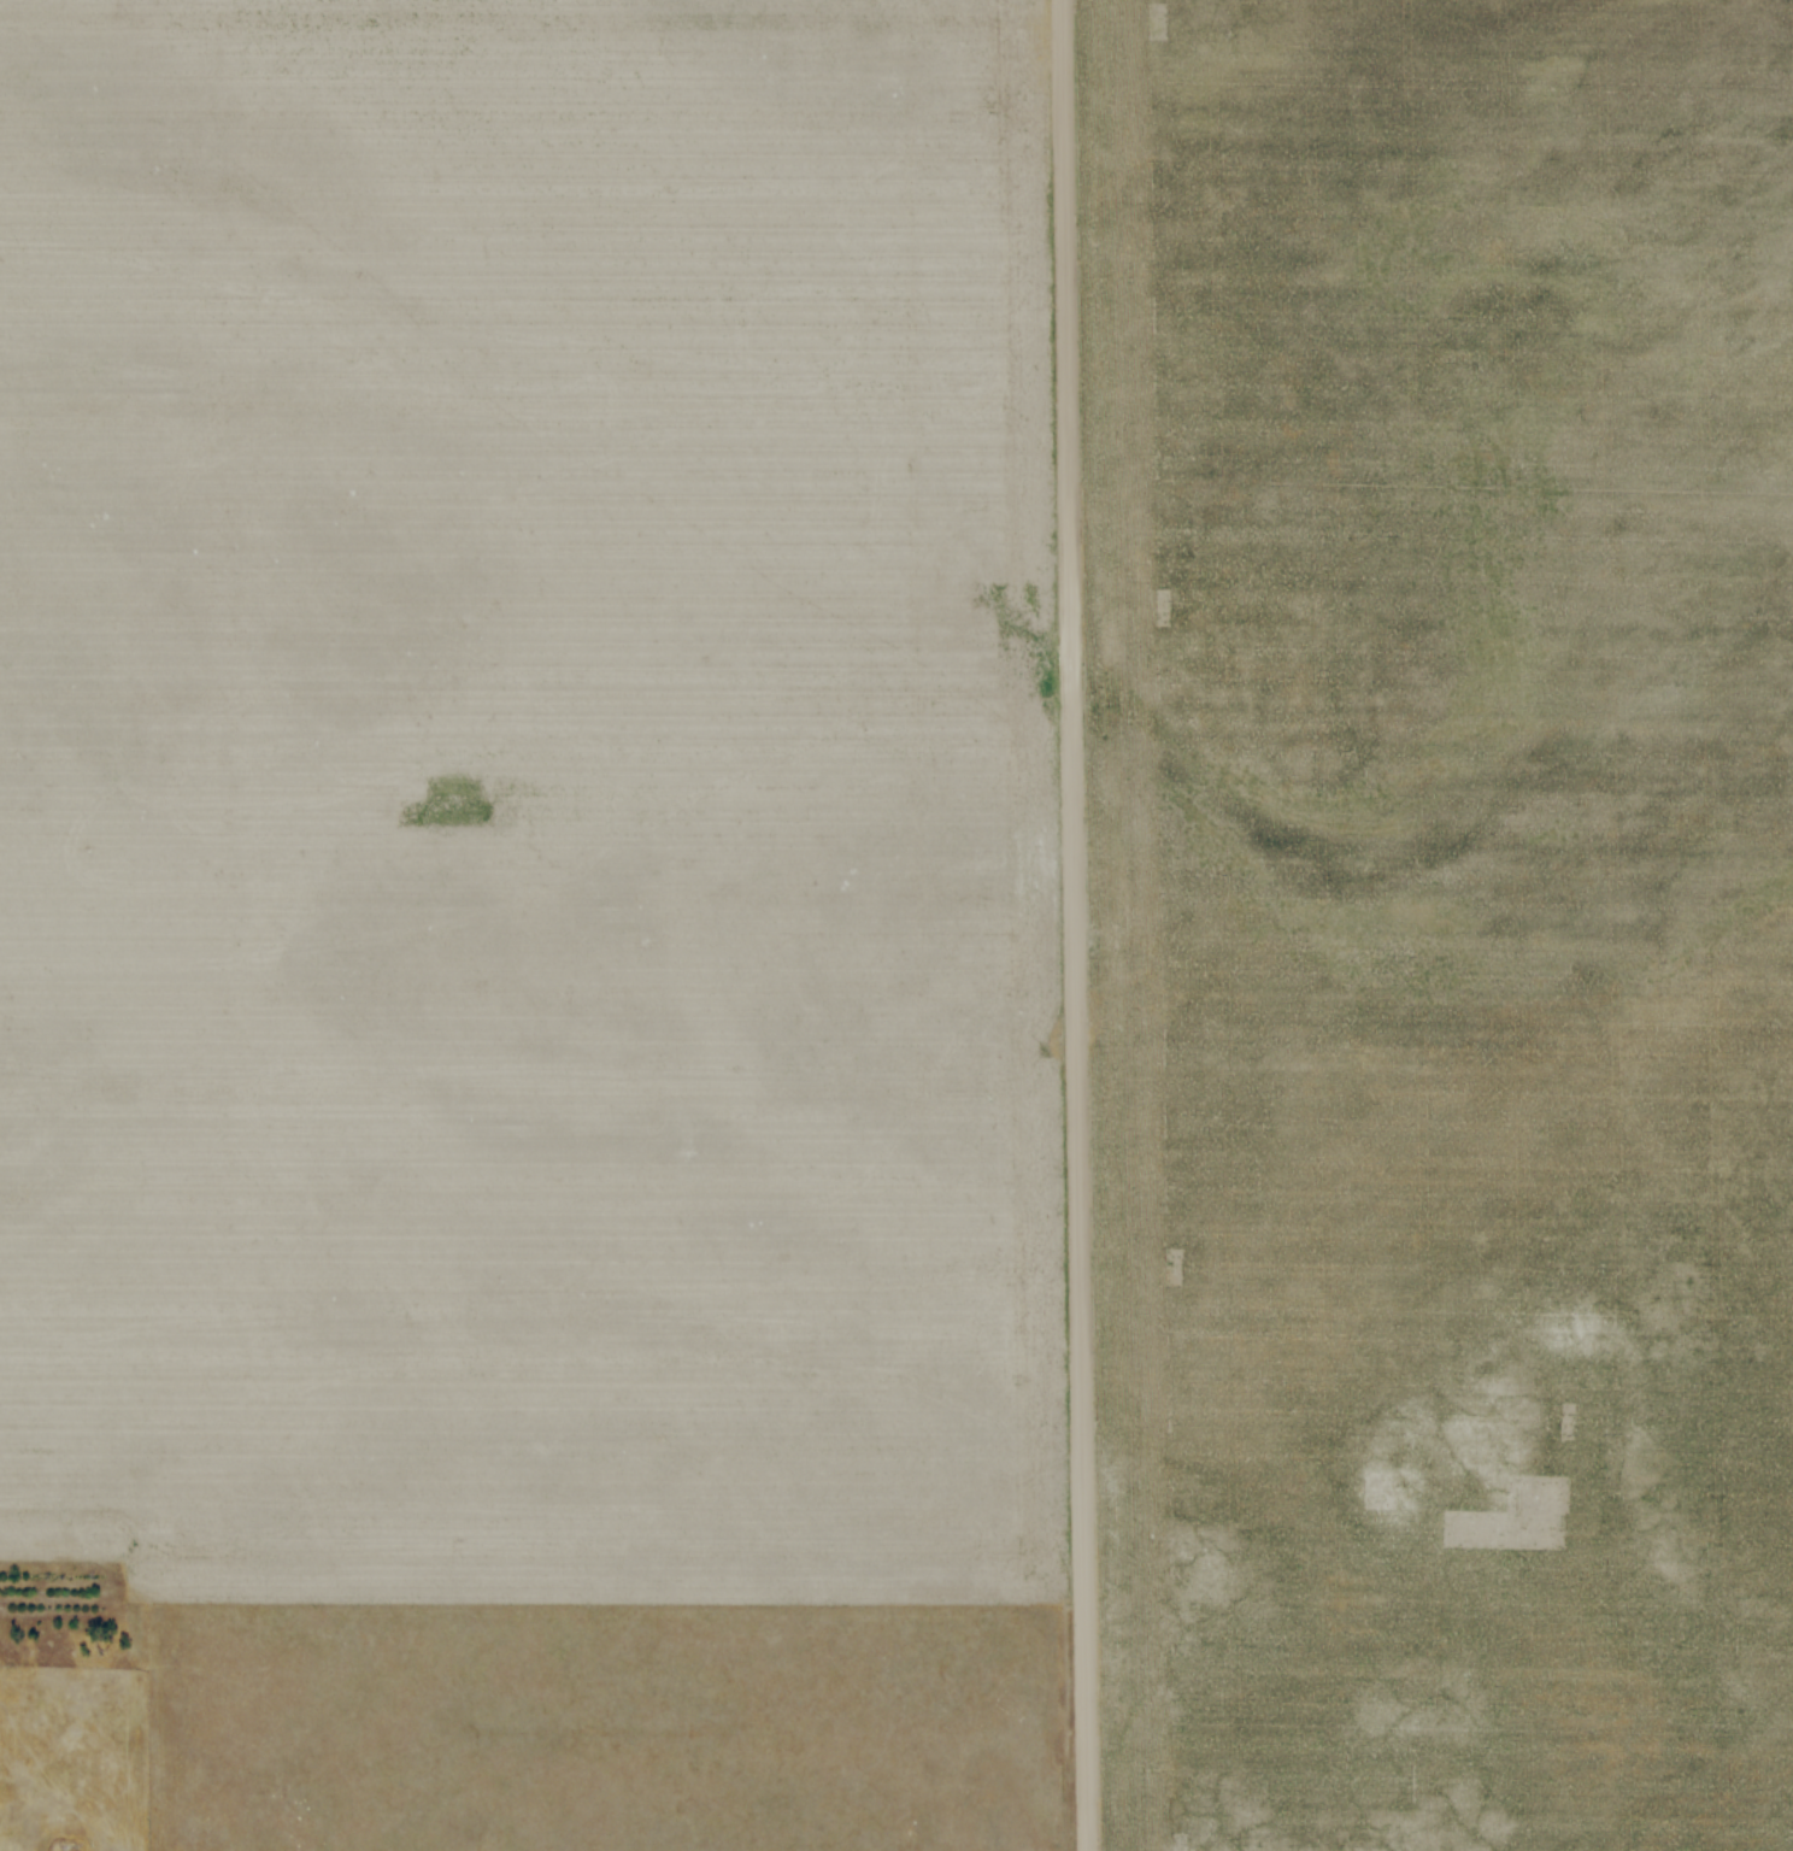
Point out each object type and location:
crop: (527, 804)
road: (1077, 924)

